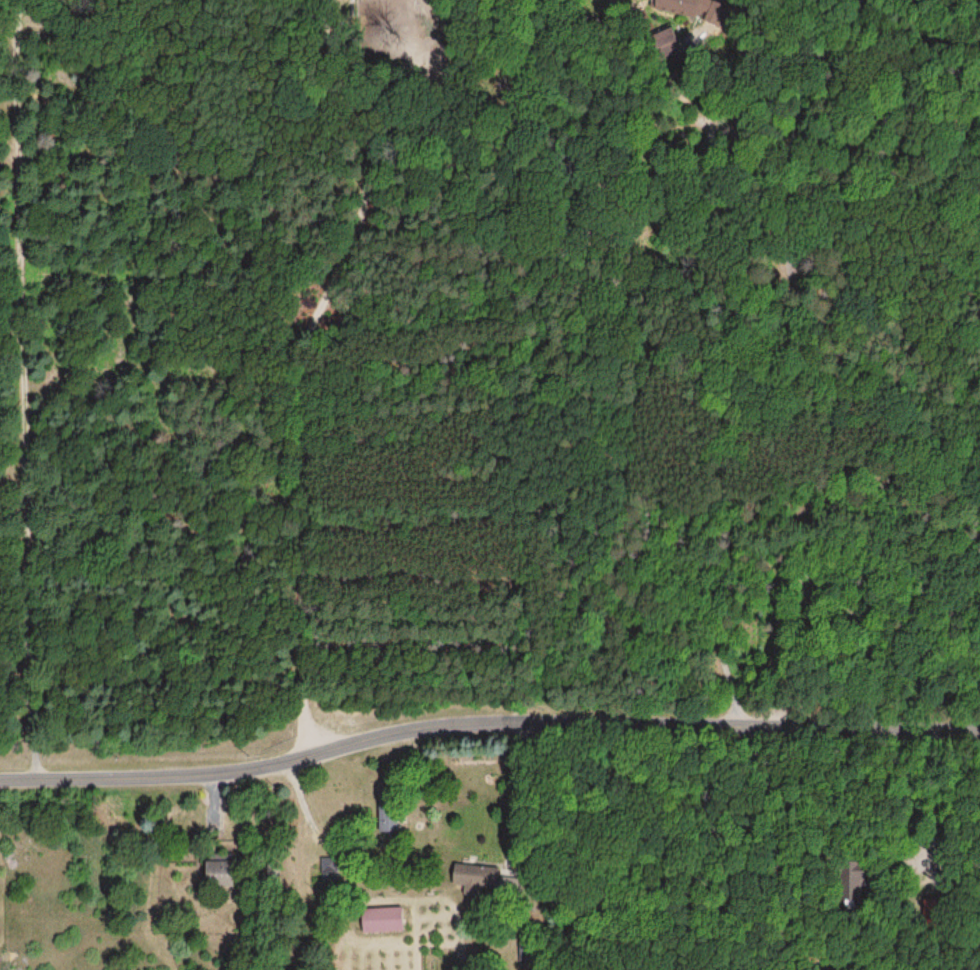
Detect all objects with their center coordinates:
building: (680, 5)
road: (385, 114)
road: (548, 354)
road: (834, 356)
road: (28, 389)
road: (299, 430)
road: (485, 708)
building: (384, 819)
building: (215, 873)
building: (379, 918)

